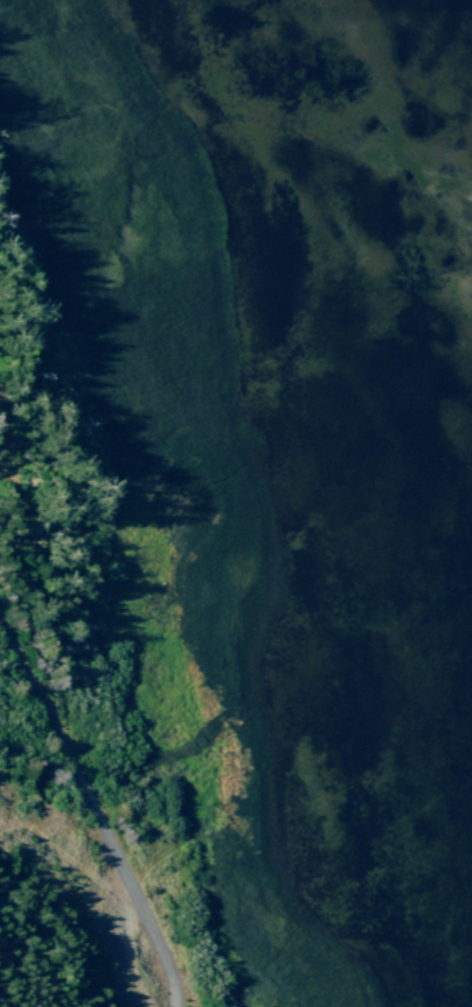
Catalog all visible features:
road: (95, 803)

